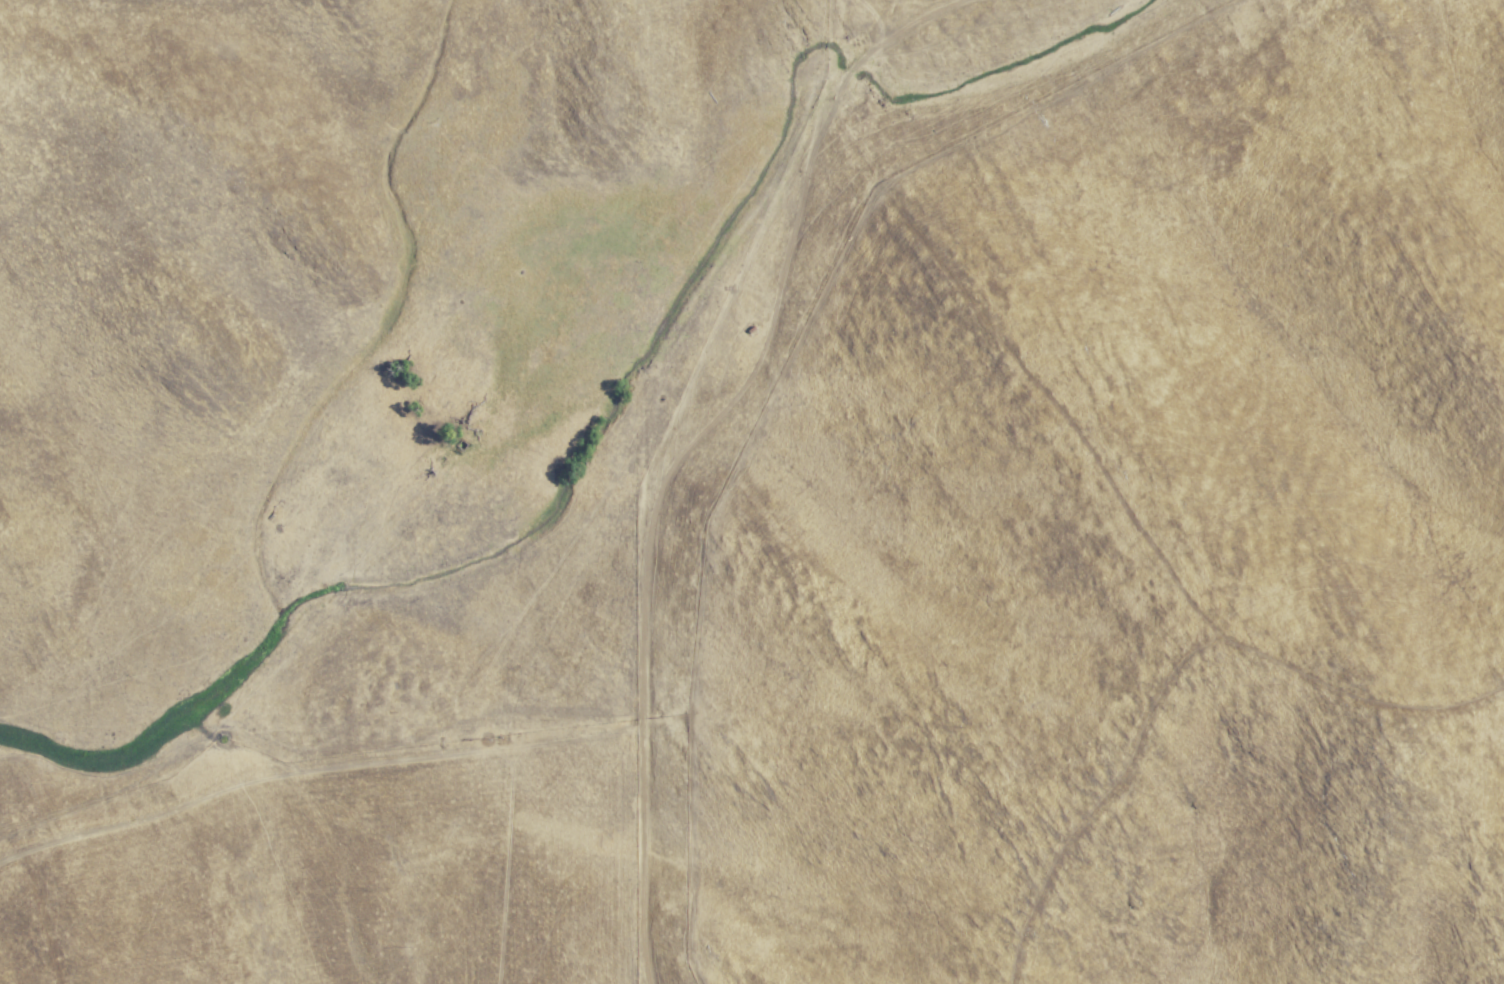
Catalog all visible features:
road: (659, 459)

